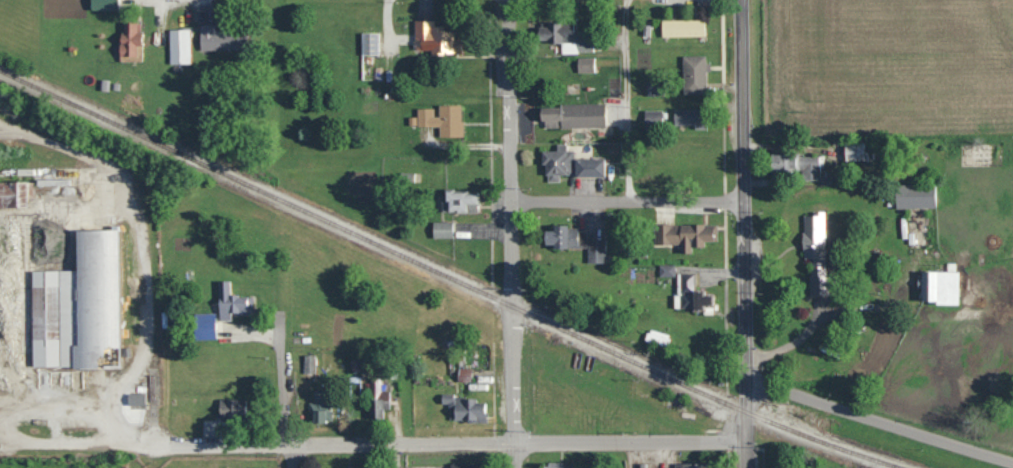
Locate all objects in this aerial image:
building: (682, 27)
building: (541, 32)
building: (222, 37)
building: (432, 38)
building: (129, 39)
building: (179, 46)
building: (694, 71)
building: (571, 115)
building: (425, 116)
building: (449, 121)
building: (852, 151)
building: (569, 164)
building: (793, 164)
road: (742, 190)
building: (11, 194)
building: (913, 196)
road: (625, 198)
building: (458, 200)
building: (441, 229)
road: (509, 233)
building: (693, 235)
building: (584, 243)
building: (814, 248)
railway: (450, 276)
building: (938, 286)
building: (691, 294)
building: (232, 301)
building: (76, 306)
road: (135, 324)
road: (287, 394)
building: (371, 394)
building: (320, 405)
building: (464, 406)
building: (232, 408)
road: (879, 419)
road: (746, 424)
road: (372, 442)
road: (633, 454)
road: (397, 455)
building: (464, 465)

